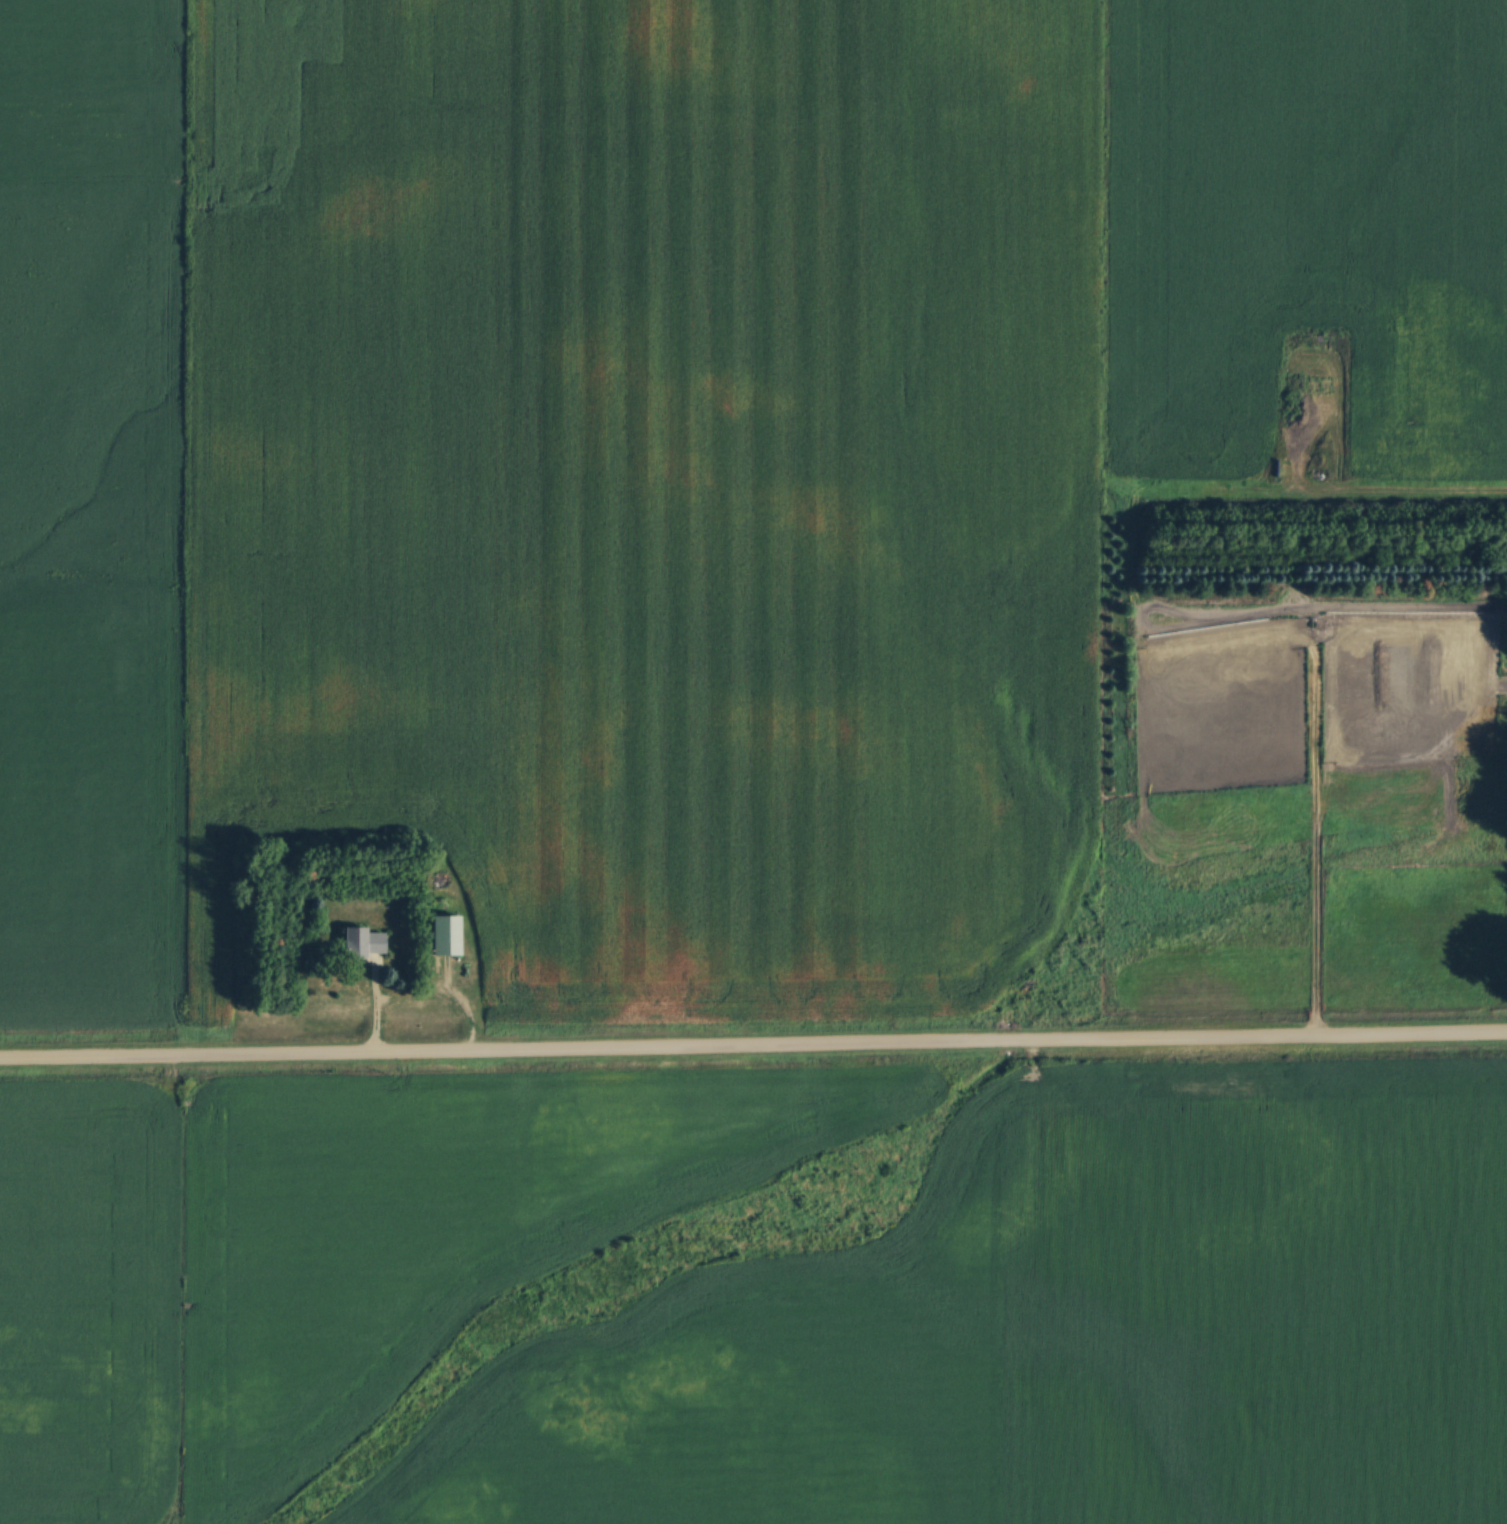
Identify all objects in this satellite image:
building: (448, 938)
building: (365, 945)
road: (753, 1045)

